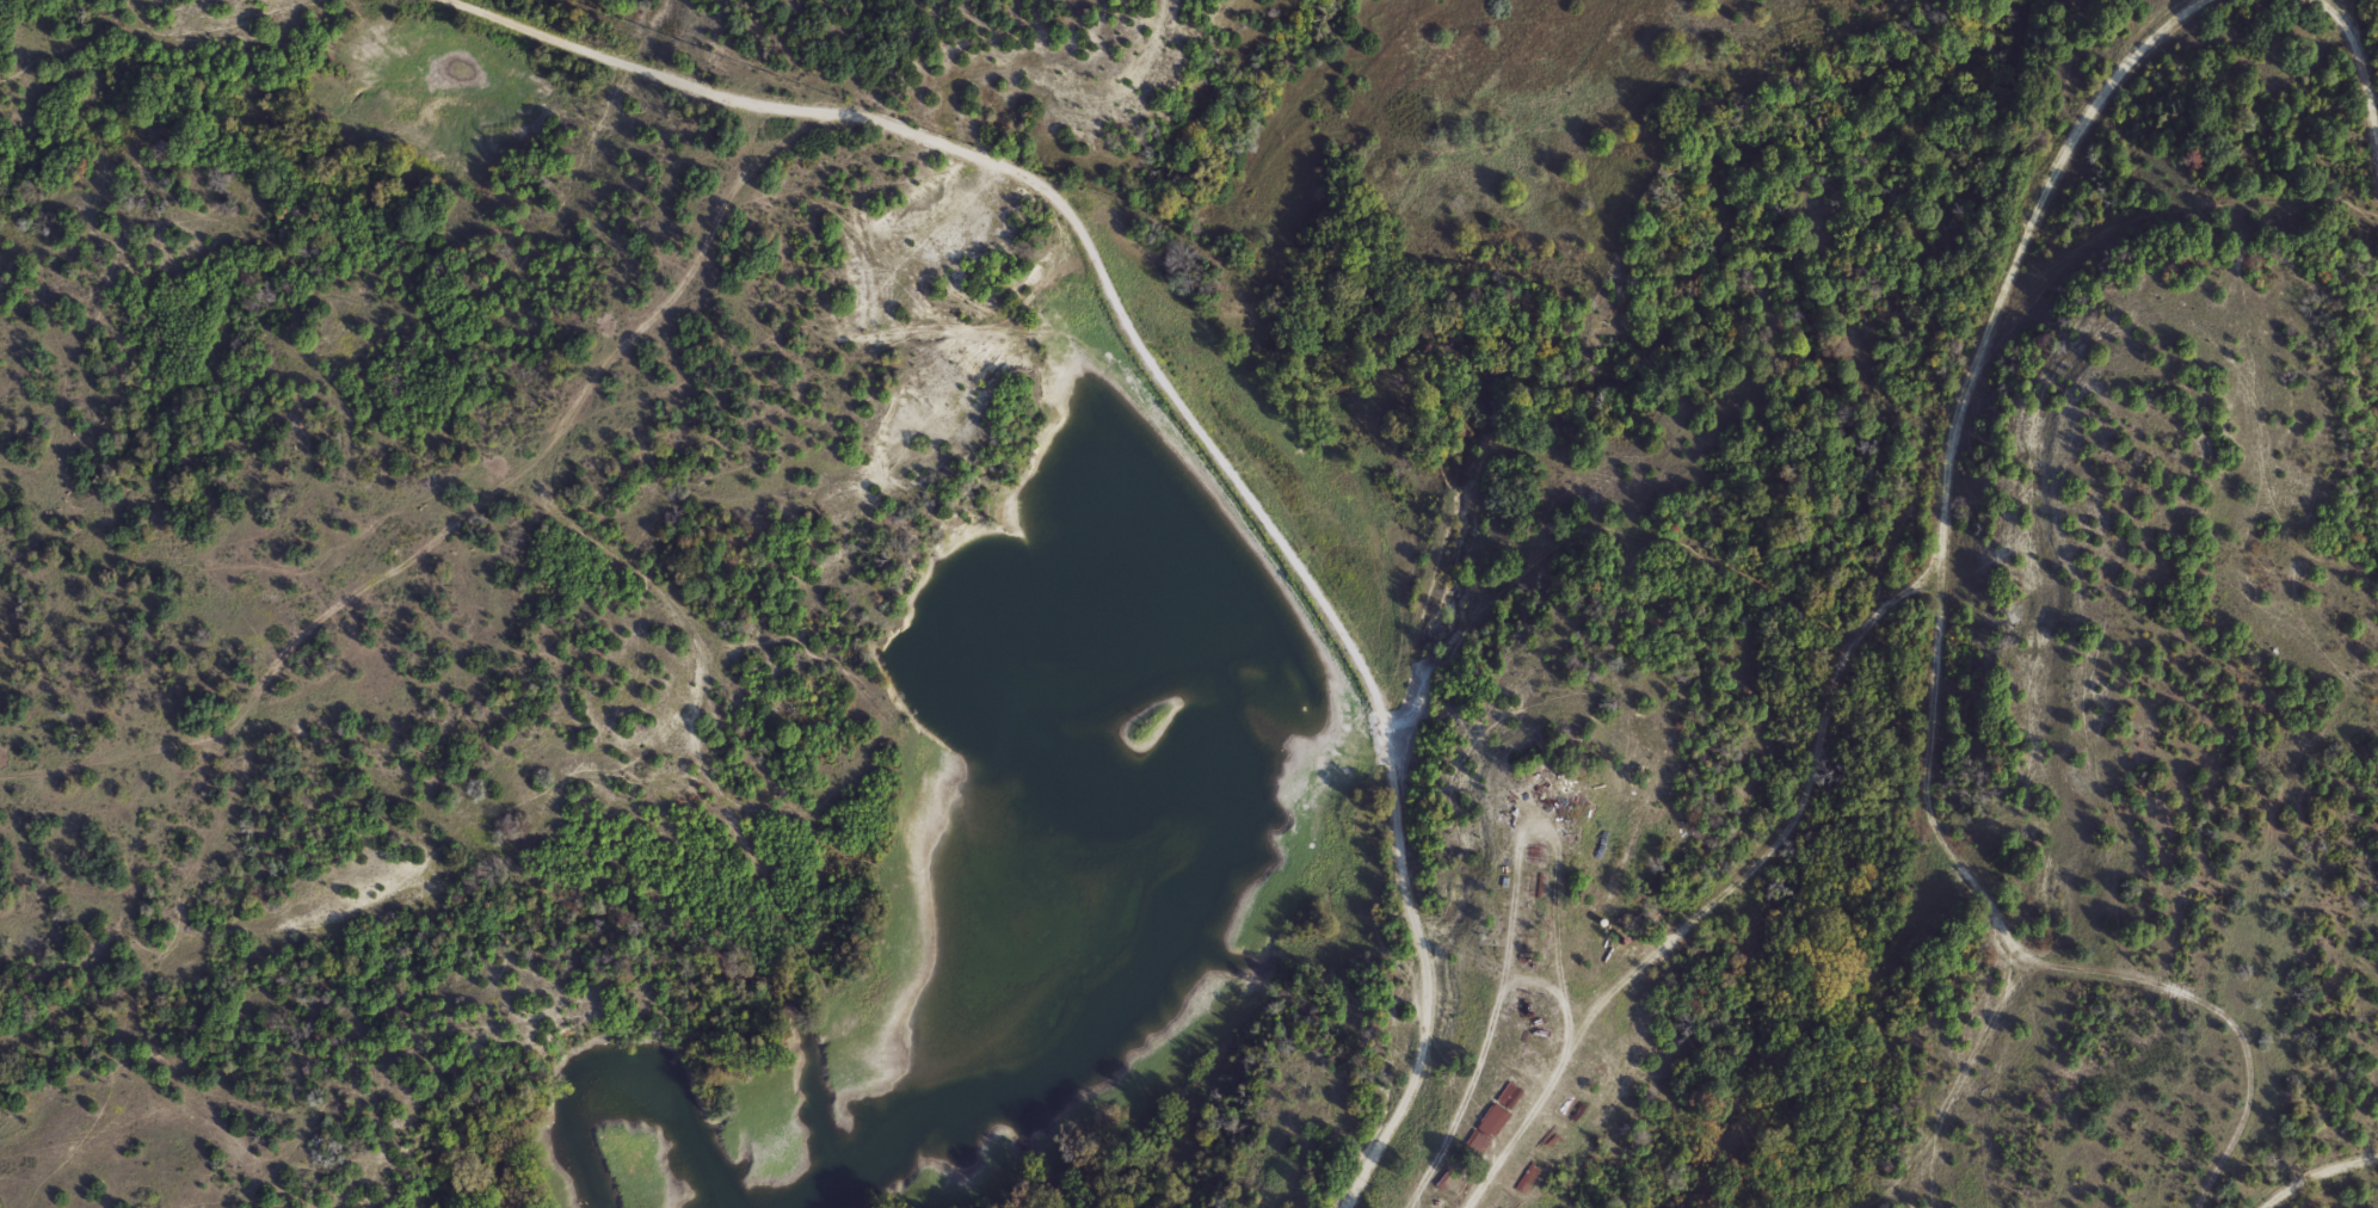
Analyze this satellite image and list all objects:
road: (1178, 397)
road: (1540, 980)
building: (1524, 1073)
building: (1499, 1111)
road: (2316, 1172)

